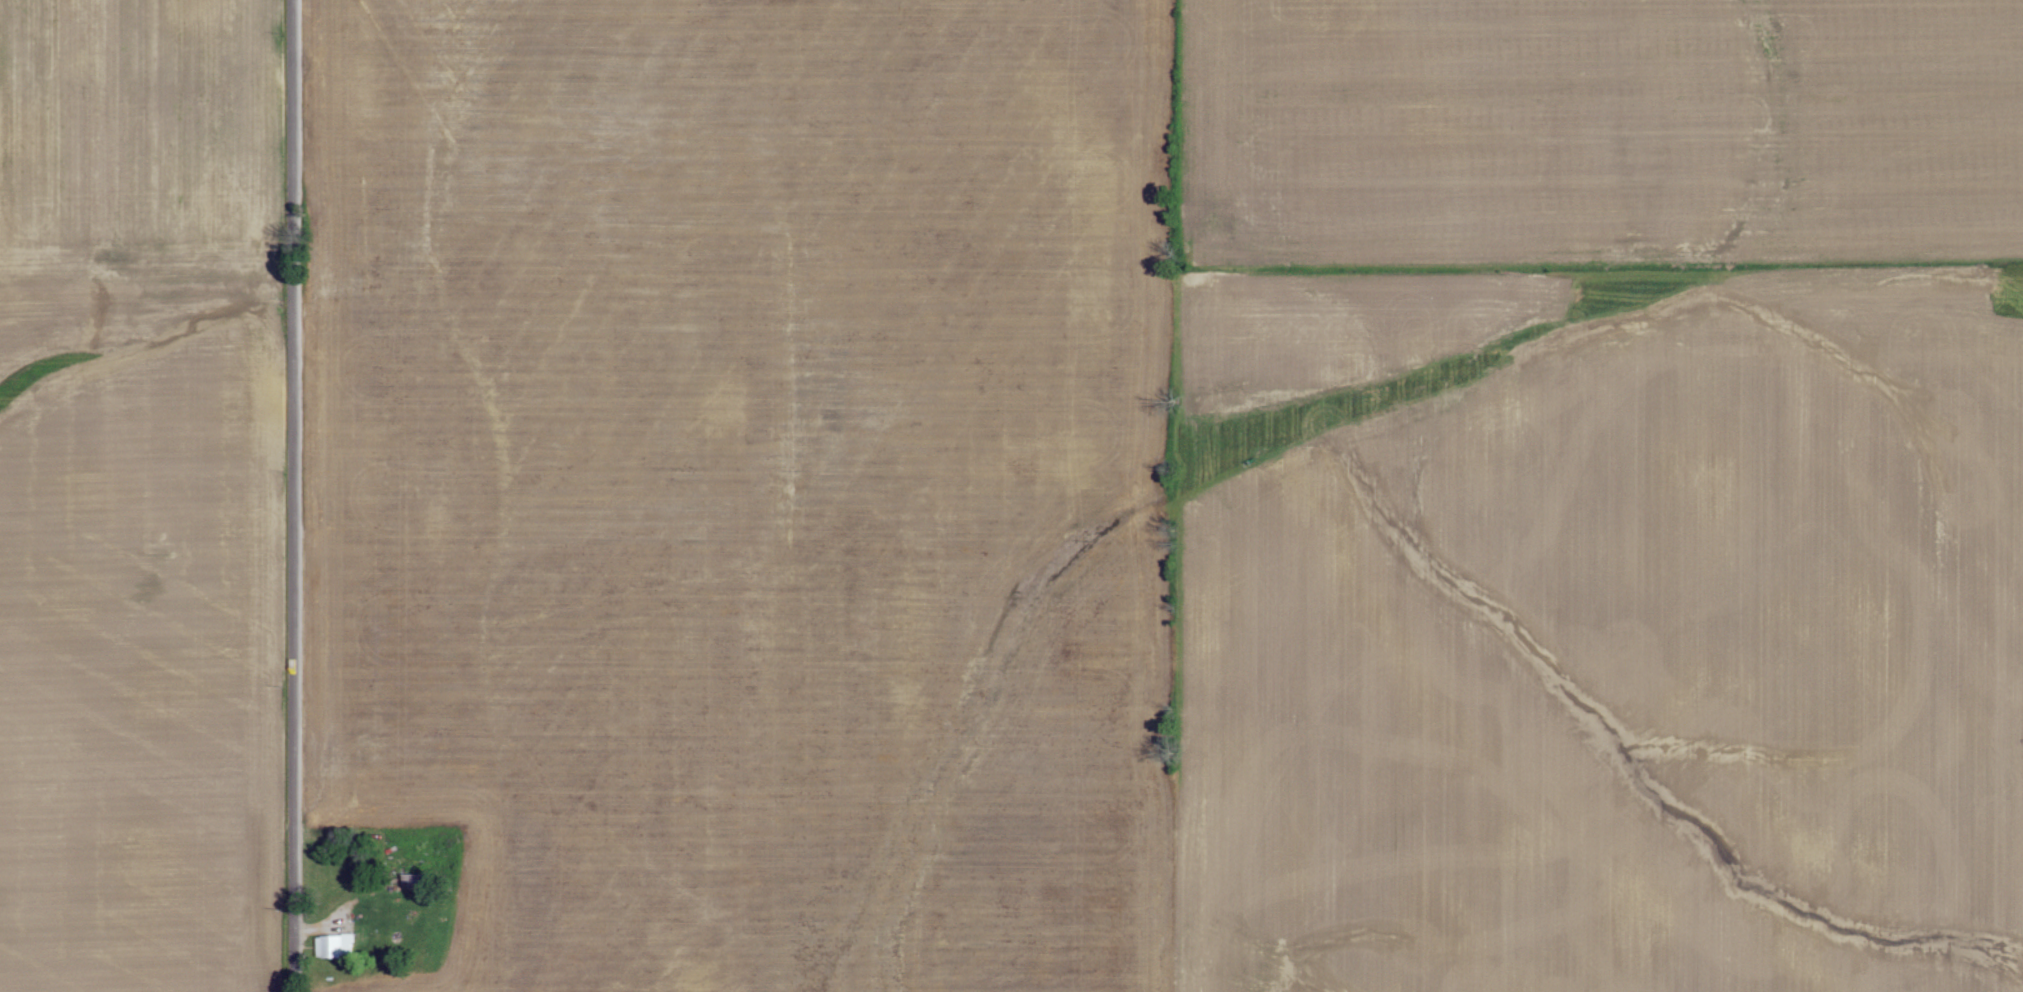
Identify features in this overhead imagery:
road: (301, 495)
building: (331, 947)

